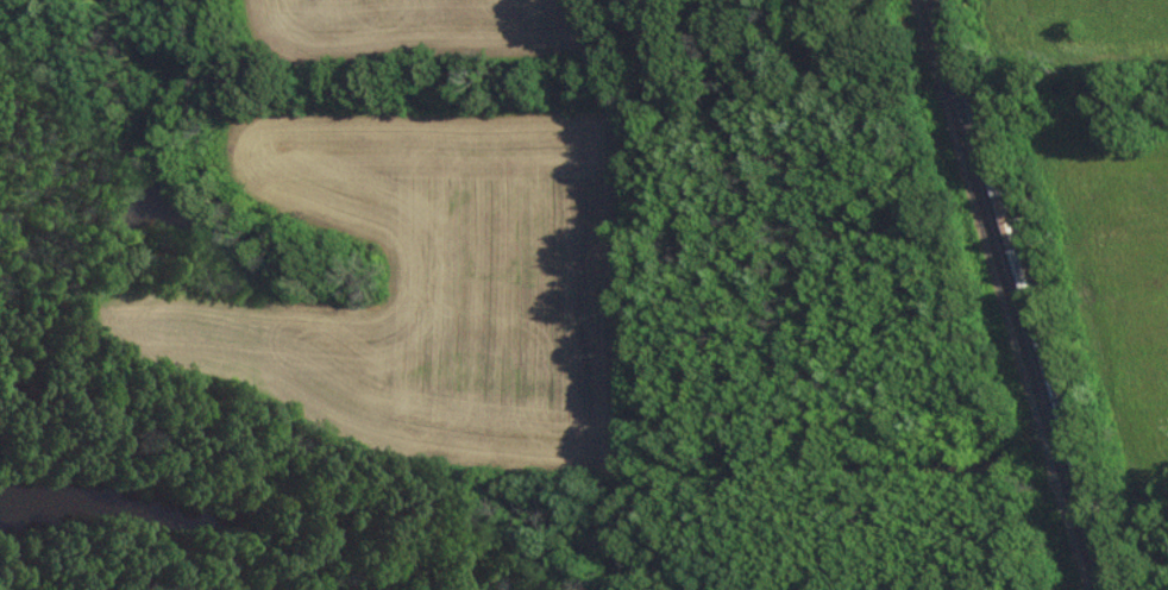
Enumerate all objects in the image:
railway: (1028, 294)
railway: (1006, 295)

